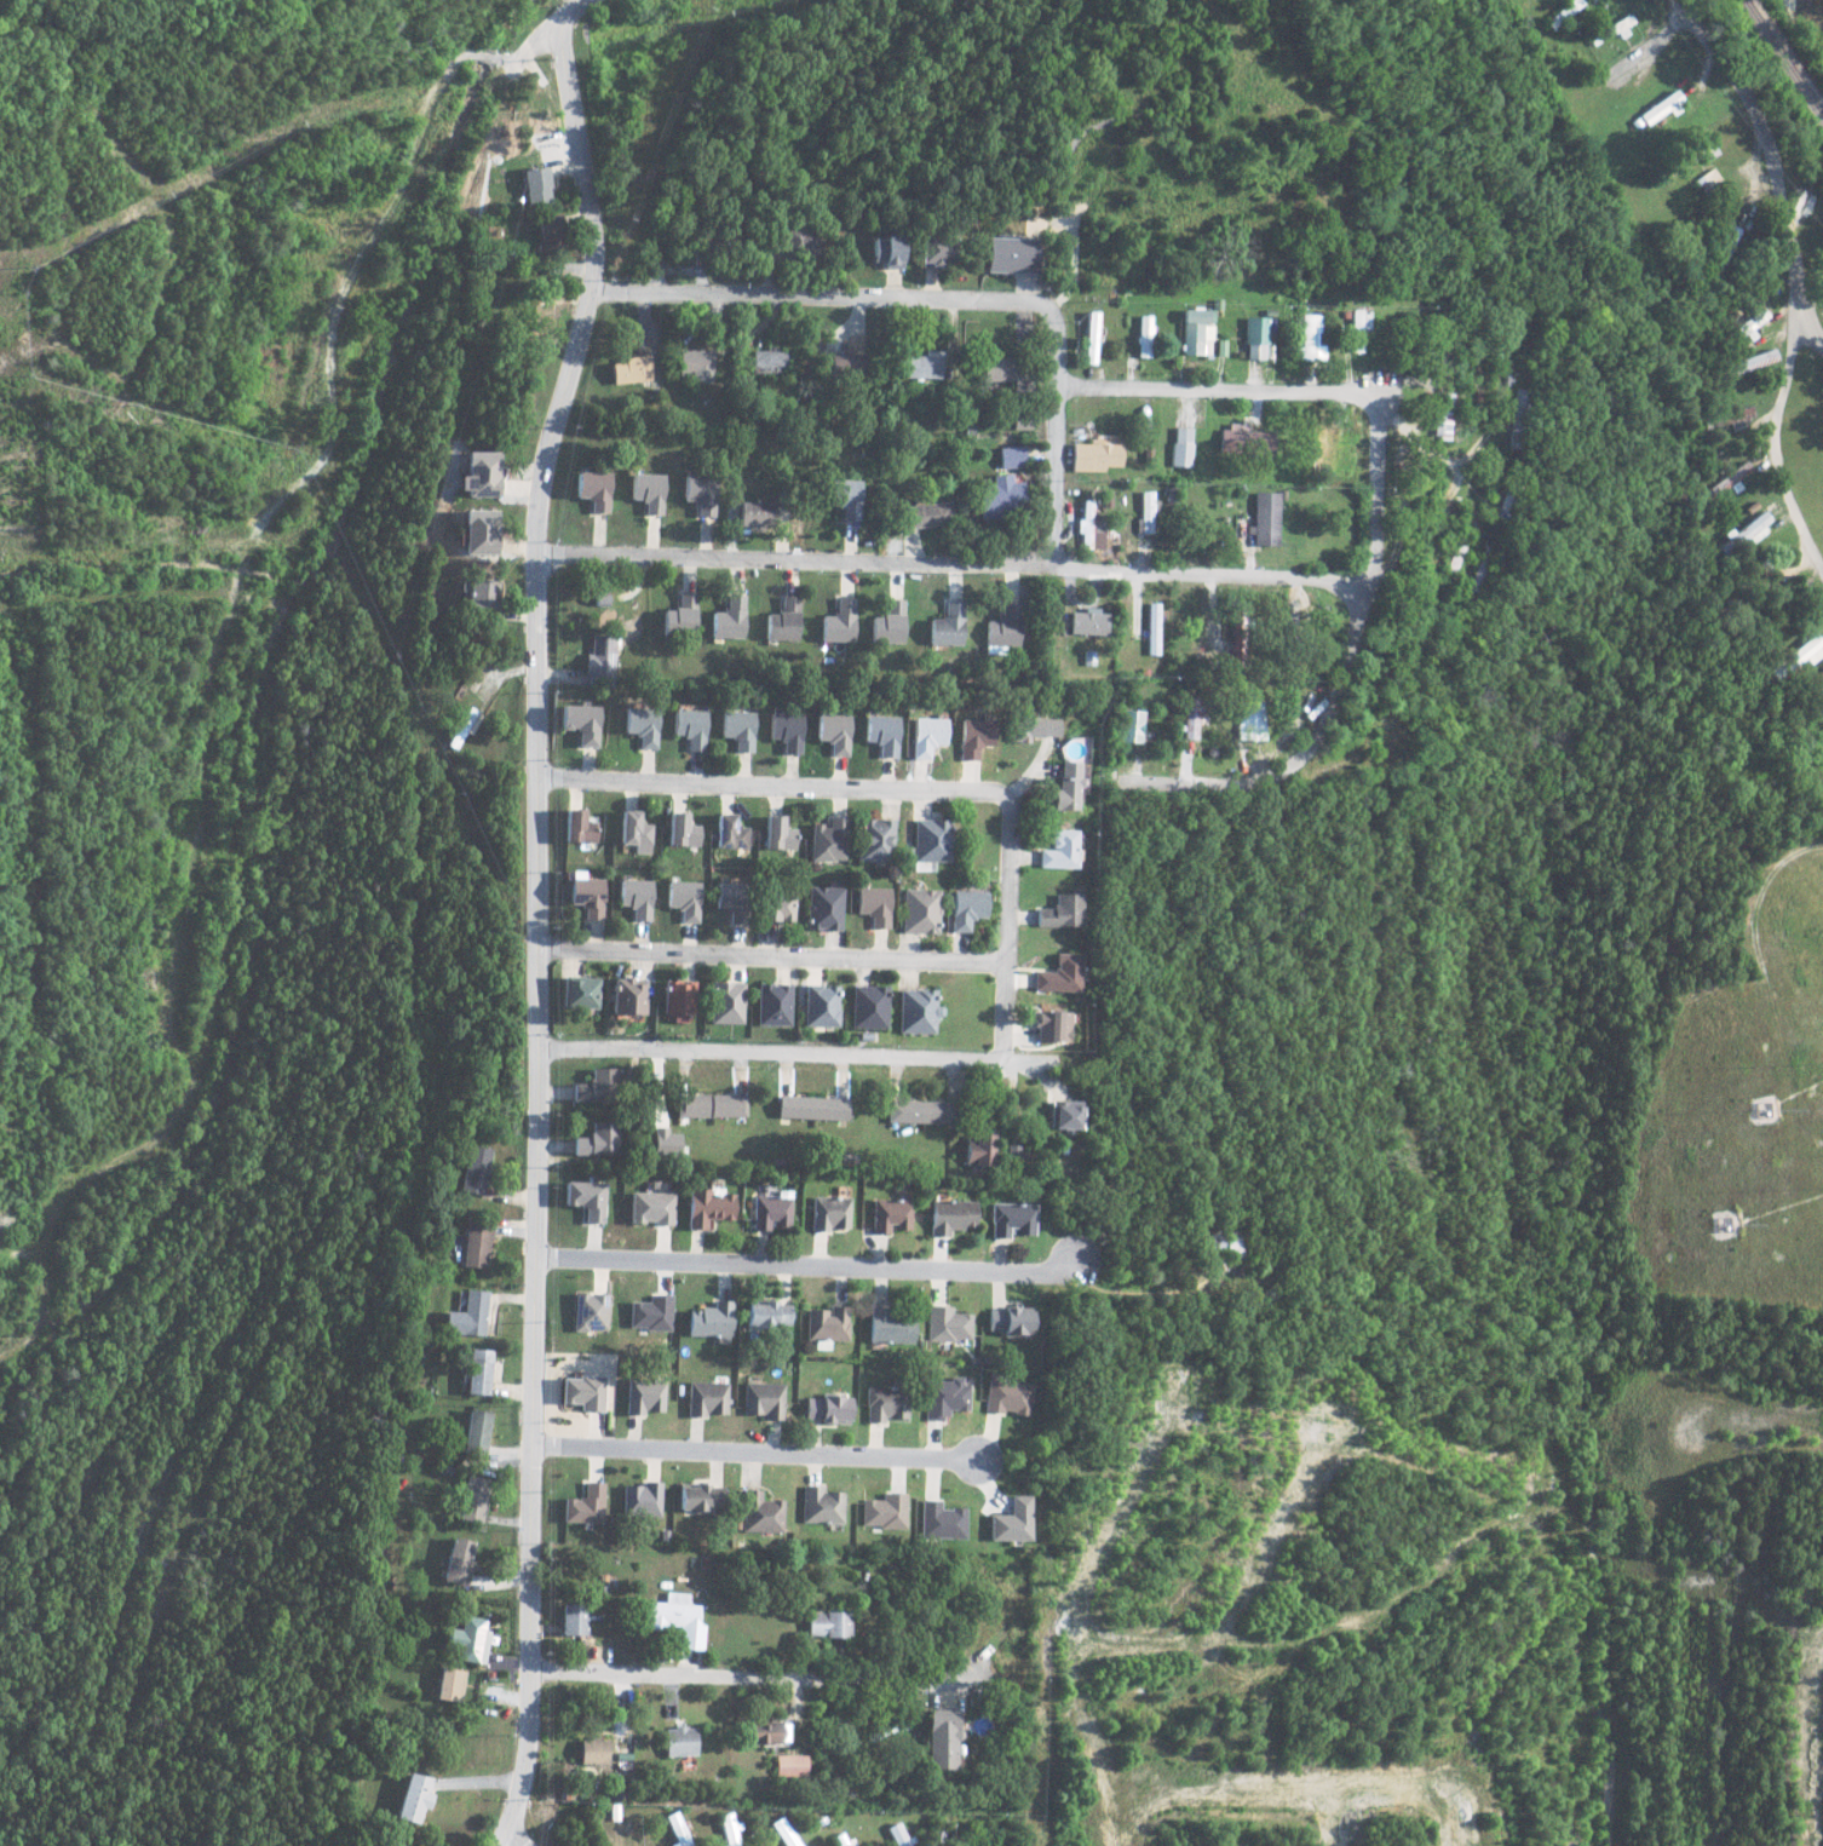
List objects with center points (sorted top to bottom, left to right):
river: (1813, 13)
railway: (1782, 61)
building: (1661, 107)
building: (1685, 157)
road: (1772, 166)
building: (533, 185)
road: (1070, 224)
building: (547, 234)
building: (799, 242)
building: (1723, 249)
building: (885, 251)
building: (933, 251)
building: (1010, 254)
road: (362, 258)
road: (817, 295)
building: (1749, 326)
building: (1358, 328)
building: (1197, 330)
building: (1444, 332)
building: (1144, 335)
building: (1091, 337)
building: (1256, 338)
building: (1312, 338)
building: (765, 361)
building: (692, 363)
building: (1747, 363)
building: (845, 364)
building: (921, 364)
building: (627, 369)
building: (1006, 372)
road: (1223, 387)
building: (1731, 415)
building: (1517, 419)
road: (1056, 438)
building: (1246, 441)
road: (1772, 443)
building: (1181, 447)
building: (1011, 456)
building: (1094, 456)
building: (478, 473)
building: (1729, 481)
building: (591, 489)
building: (644, 491)
building: (698, 493)
building: (844, 498)
building: (1001, 498)
building: (755, 513)
building: (1145, 513)
building: (927, 514)
building: (1266, 518)
building: (1085, 523)
building: (479, 531)
building: (1746, 531)
road: (955, 567)
building: (479, 593)
building: (953, 606)
building: (679, 615)
building: (728, 619)
building: (782, 620)
building: (838, 621)
building: (1088, 622)
building: (889, 623)
building: (1152, 628)
building: (944, 631)
building: (1001, 632)
building: (1238, 640)
building: (1799, 656)
building: (599, 661)
road: (1346, 674)
building: (579, 723)
building: (638, 725)
building: (1131, 726)
building: (686, 728)
building: (1030, 728)
building: (735, 729)
building: (783, 730)
building: (832, 732)
building: (880, 734)
building: (925, 735)
building: (974, 736)
building: (1066, 787)
road: (856, 788)
building: (575, 827)
building: (678, 830)
building: (631, 832)
building: (728, 833)
building: (775, 833)
building: (827, 840)
building: (874, 840)
building: (931, 840)
building: (1059, 850)
building: (583, 895)
building: (632, 897)
building: (679, 899)
building: (729, 901)
building: (874, 905)
building: (776, 907)
building: (823, 908)
building: (966, 909)
building: (920, 910)
building: (1060, 912)
road: (535, 918)
road: (772, 959)
road: (1017, 965)
building: (1059, 974)
building: (577, 991)
building: (626, 996)
building: (674, 1000)
building: (724, 1002)
building: (772, 1003)
building: (821, 1005)
building: (869, 1007)
building: (918, 1011)
building: (1051, 1025)
road: (815, 1054)
building: (590, 1087)
building: (707, 1105)
building: (811, 1108)
building: (920, 1111)
building: (1065, 1115)
building: (591, 1141)
building: (661, 1143)
building: (978, 1149)
building: (475, 1171)
building: (583, 1198)
building: (705, 1207)
building: (648, 1208)
building: (770, 1213)
building: (829, 1213)
building: (890, 1215)
building: (950, 1217)
building: (1012, 1220)
building: (477, 1244)
road: (818, 1265)
building: (588, 1312)
building: (649, 1312)
building: (767, 1315)
building: (468, 1316)
building: (1008, 1321)
building: (709, 1322)
building: (948, 1324)
building: (827, 1325)
building: (887, 1327)
building: (479, 1371)
building: (582, 1392)
building: (643, 1397)
building: (707, 1398)
building: (945, 1398)
building: (1008, 1398)
building: (763, 1399)
building: (885, 1404)
building: (827, 1409)
building: (477, 1433)
road: (764, 1453)
building: (472, 1499)
building: (698, 1499)
building: (639, 1500)
building: (585, 1505)
building: (821, 1506)
building: (884, 1512)
building: (760, 1513)
building: (941, 1520)
building: (1011, 1522)
building: (458, 1562)
building: (571, 1620)
building: (675, 1620)
building: (826, 1624)
building: (467, 1640)
road: (740, 1679)
building: (449, 1685)
building: (765, 1733)
building: (939, 1739)
building: (679, 1742)
building: (593, 1752)
building: (788, 1766)
building: (413, 1799)
building: (728, 1829)
building: (677, 1830)
building: (783, 1833)
building: (896, 1834)
road: (508, 1840)
building: (838, 1840)

